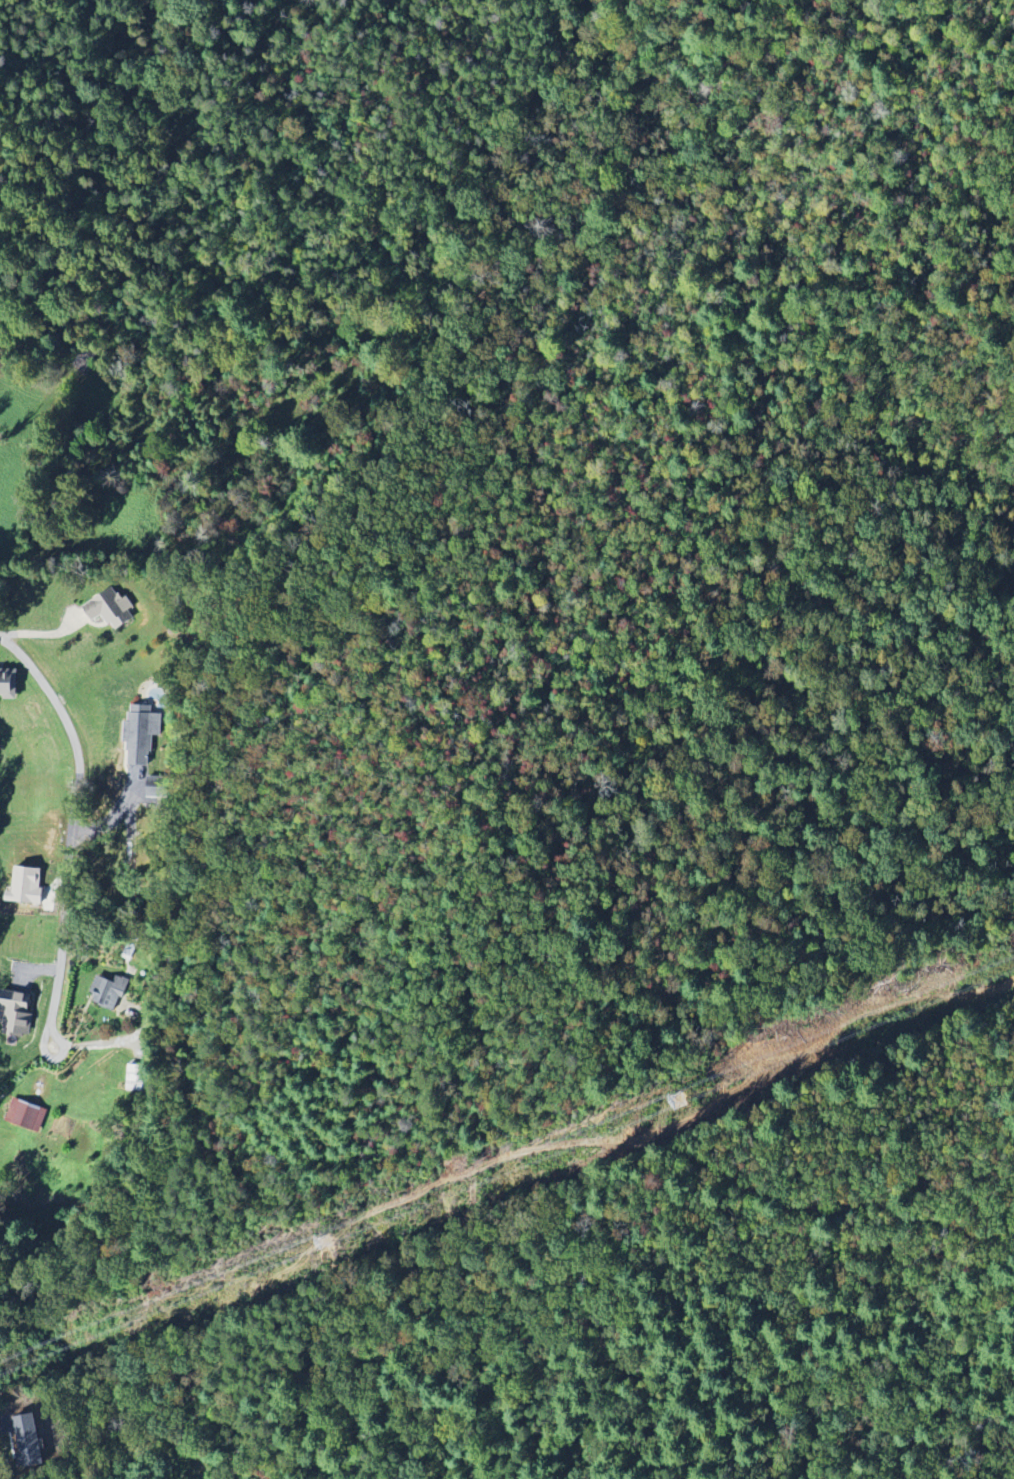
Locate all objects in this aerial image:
road: (74, 60)
building: (111, 609)
building: (8, 686)
building: (143, 760)
road: (80, 819)
building: (27, 887)
building: (109, 993)
building: (14, 1016)
building: (136, 1079)
power tower: (678, 1101)
building: (26, 1116)
building: (29, 1443)

